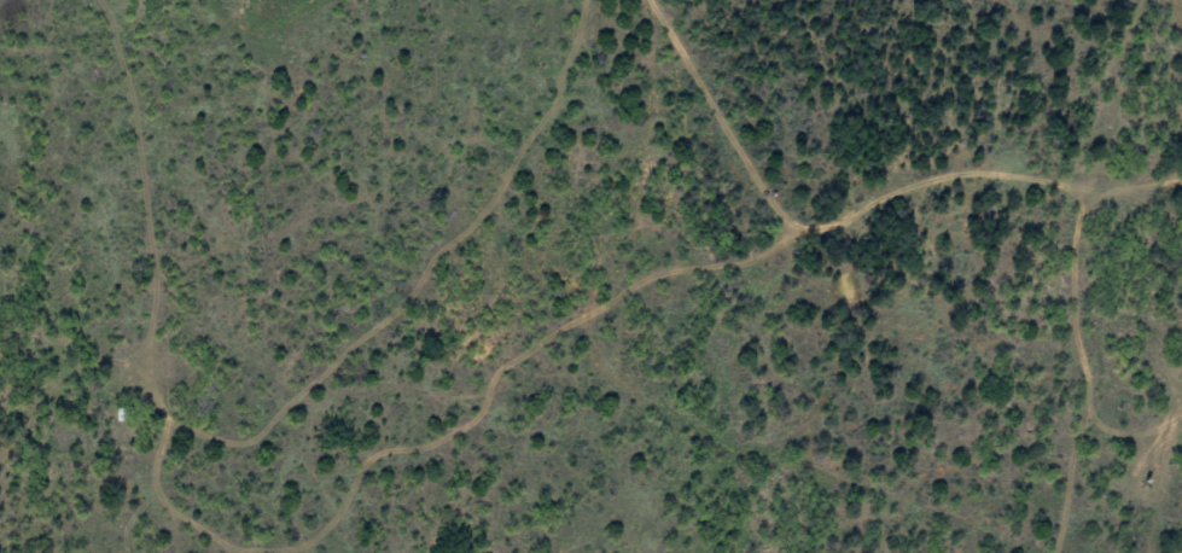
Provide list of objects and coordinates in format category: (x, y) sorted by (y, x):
road: (708, 240)

